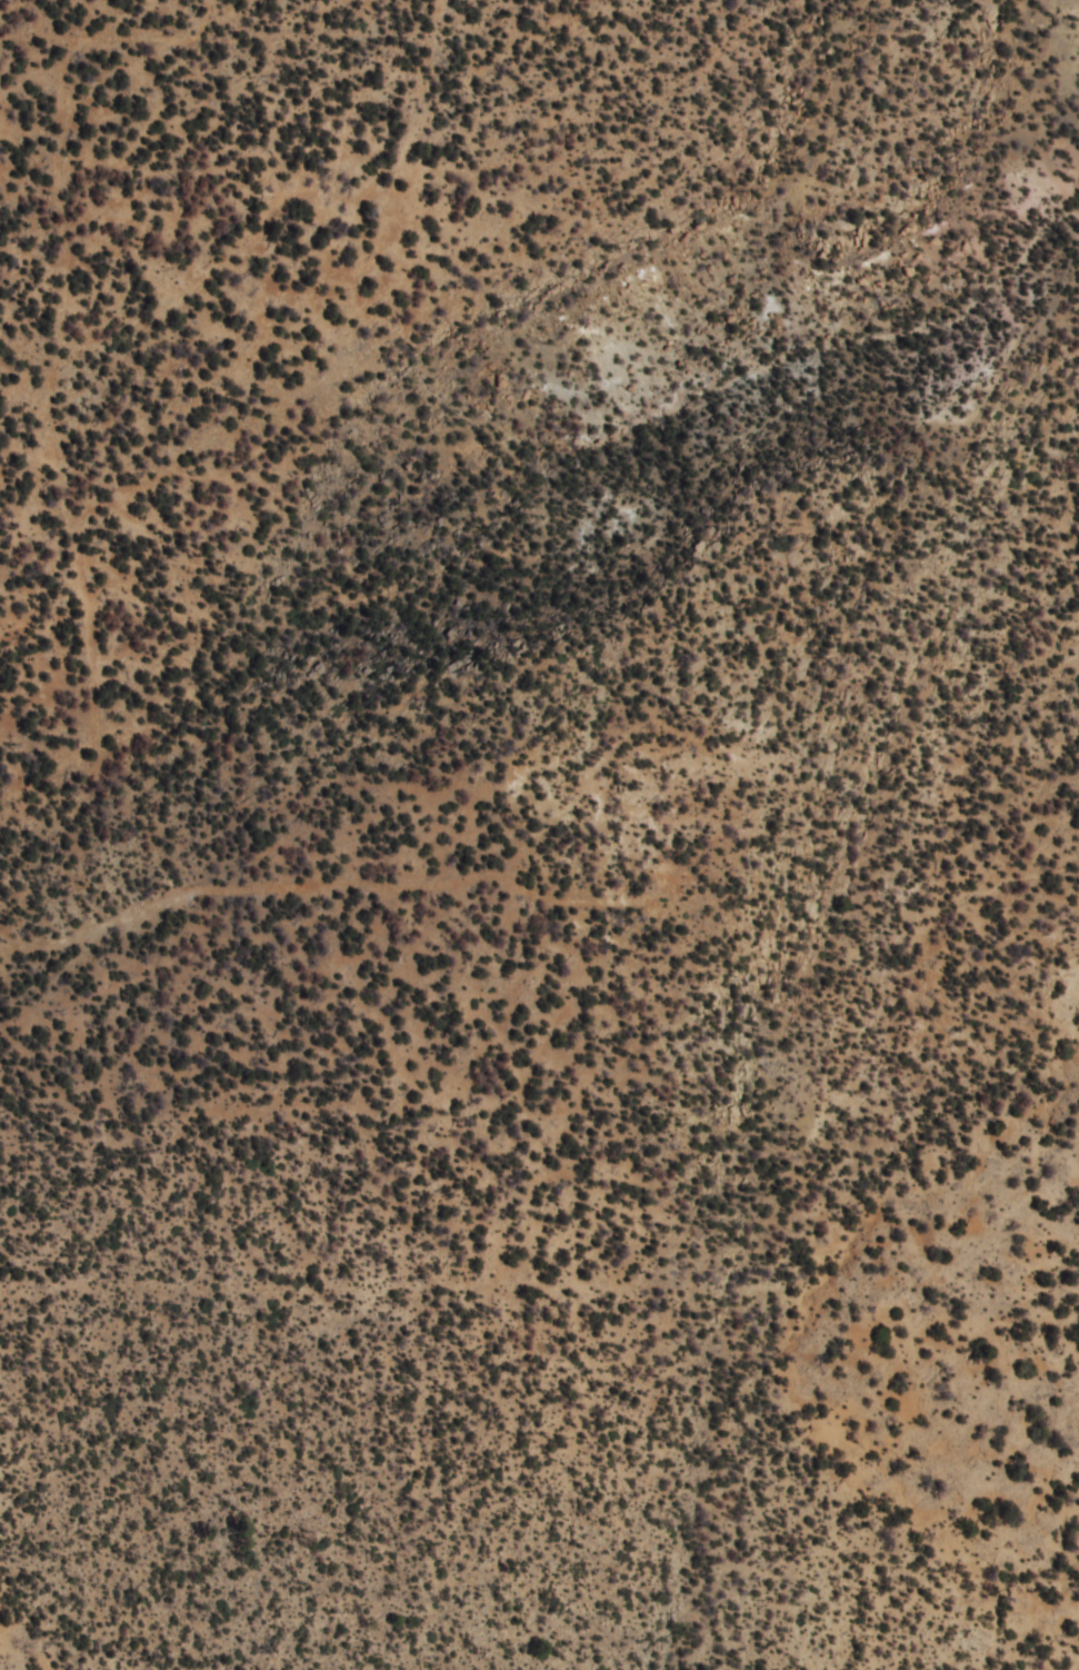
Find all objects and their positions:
road: (360, 457)
road: (539, 1303)

